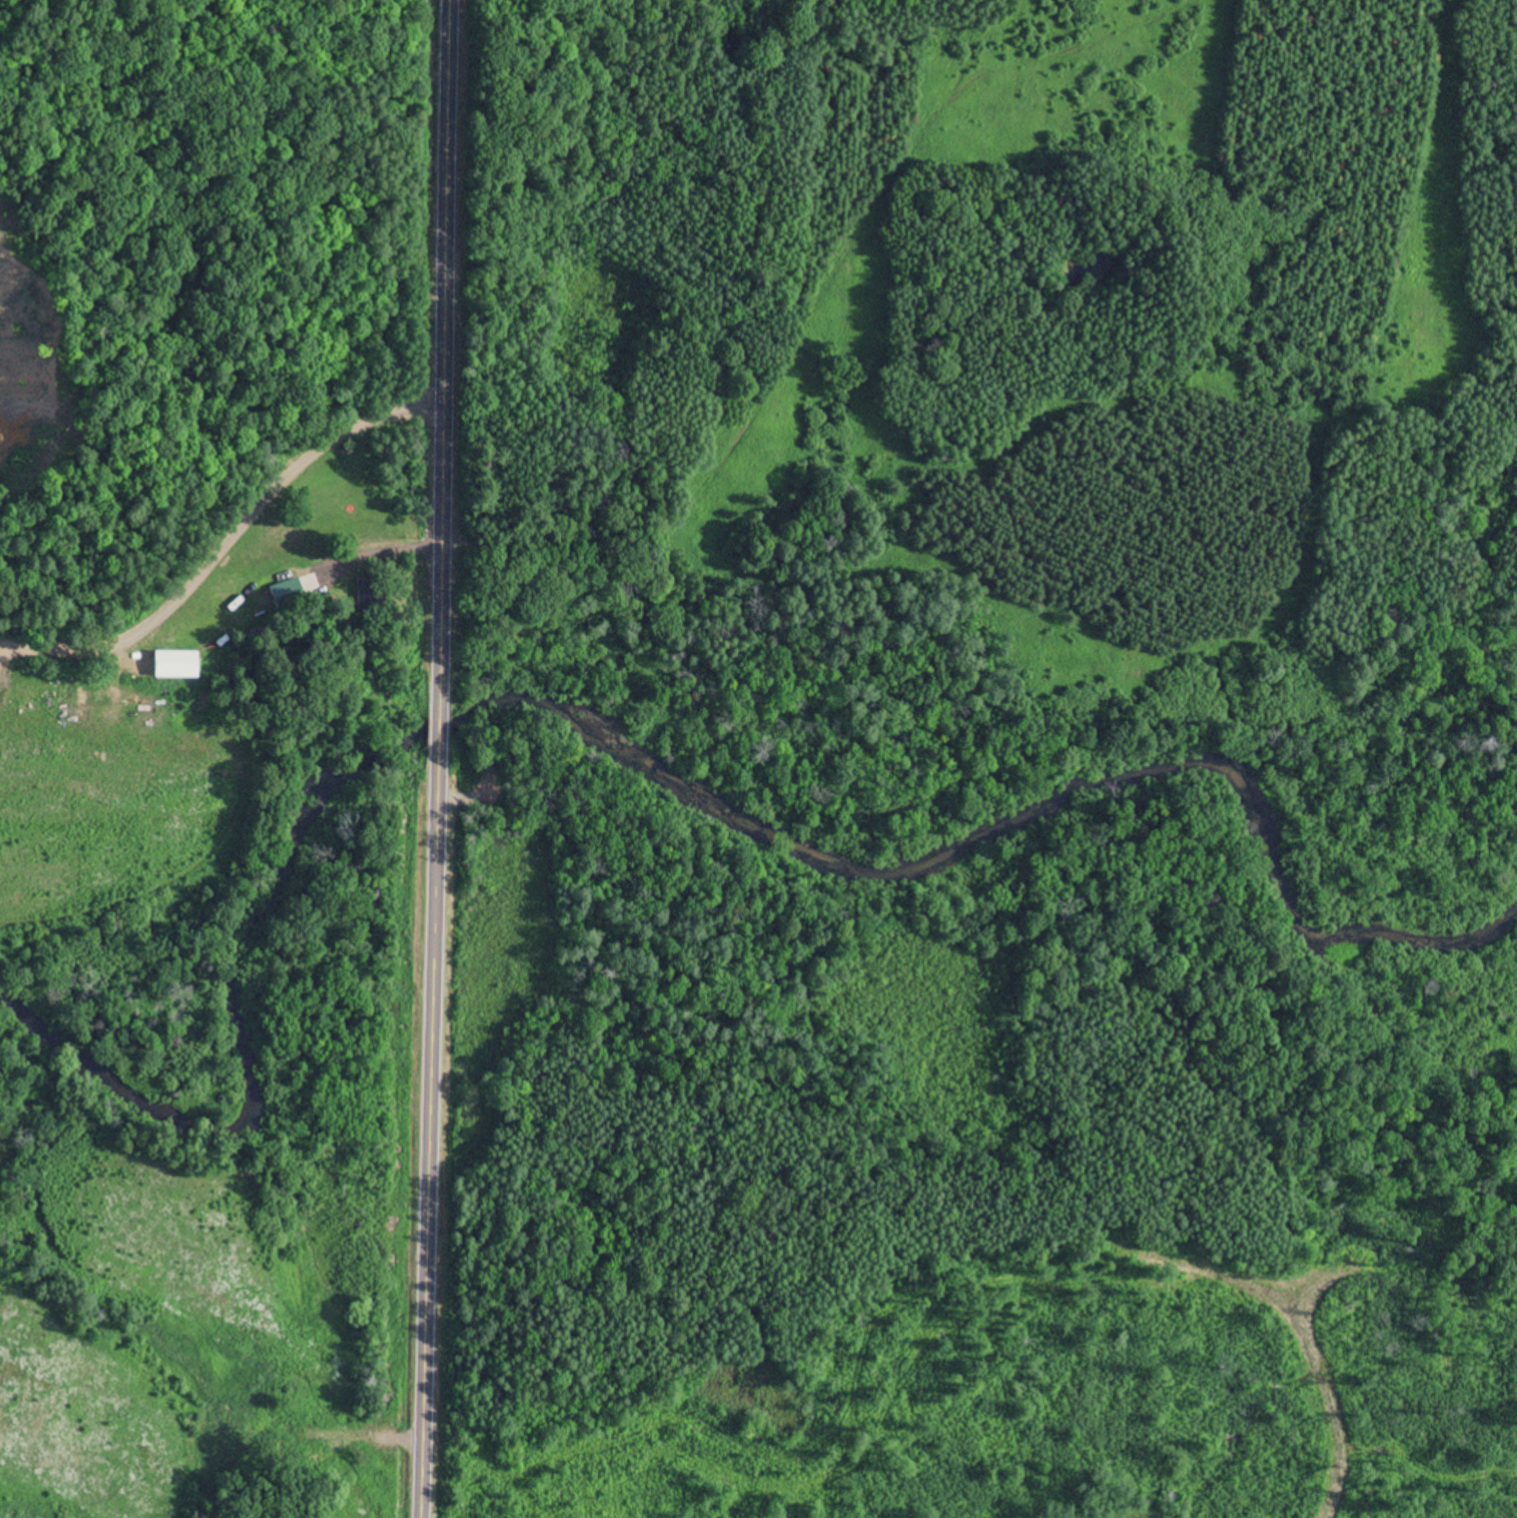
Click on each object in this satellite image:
road: (447, 352)
quarry: (27, 443)
road: (224, 540)
building: (285, 594)
building: (364, 598)
building: (172, 666)
river: (502, 723)
road: (439, 731)
river: (1341, 939)
road: (428, 1138)

